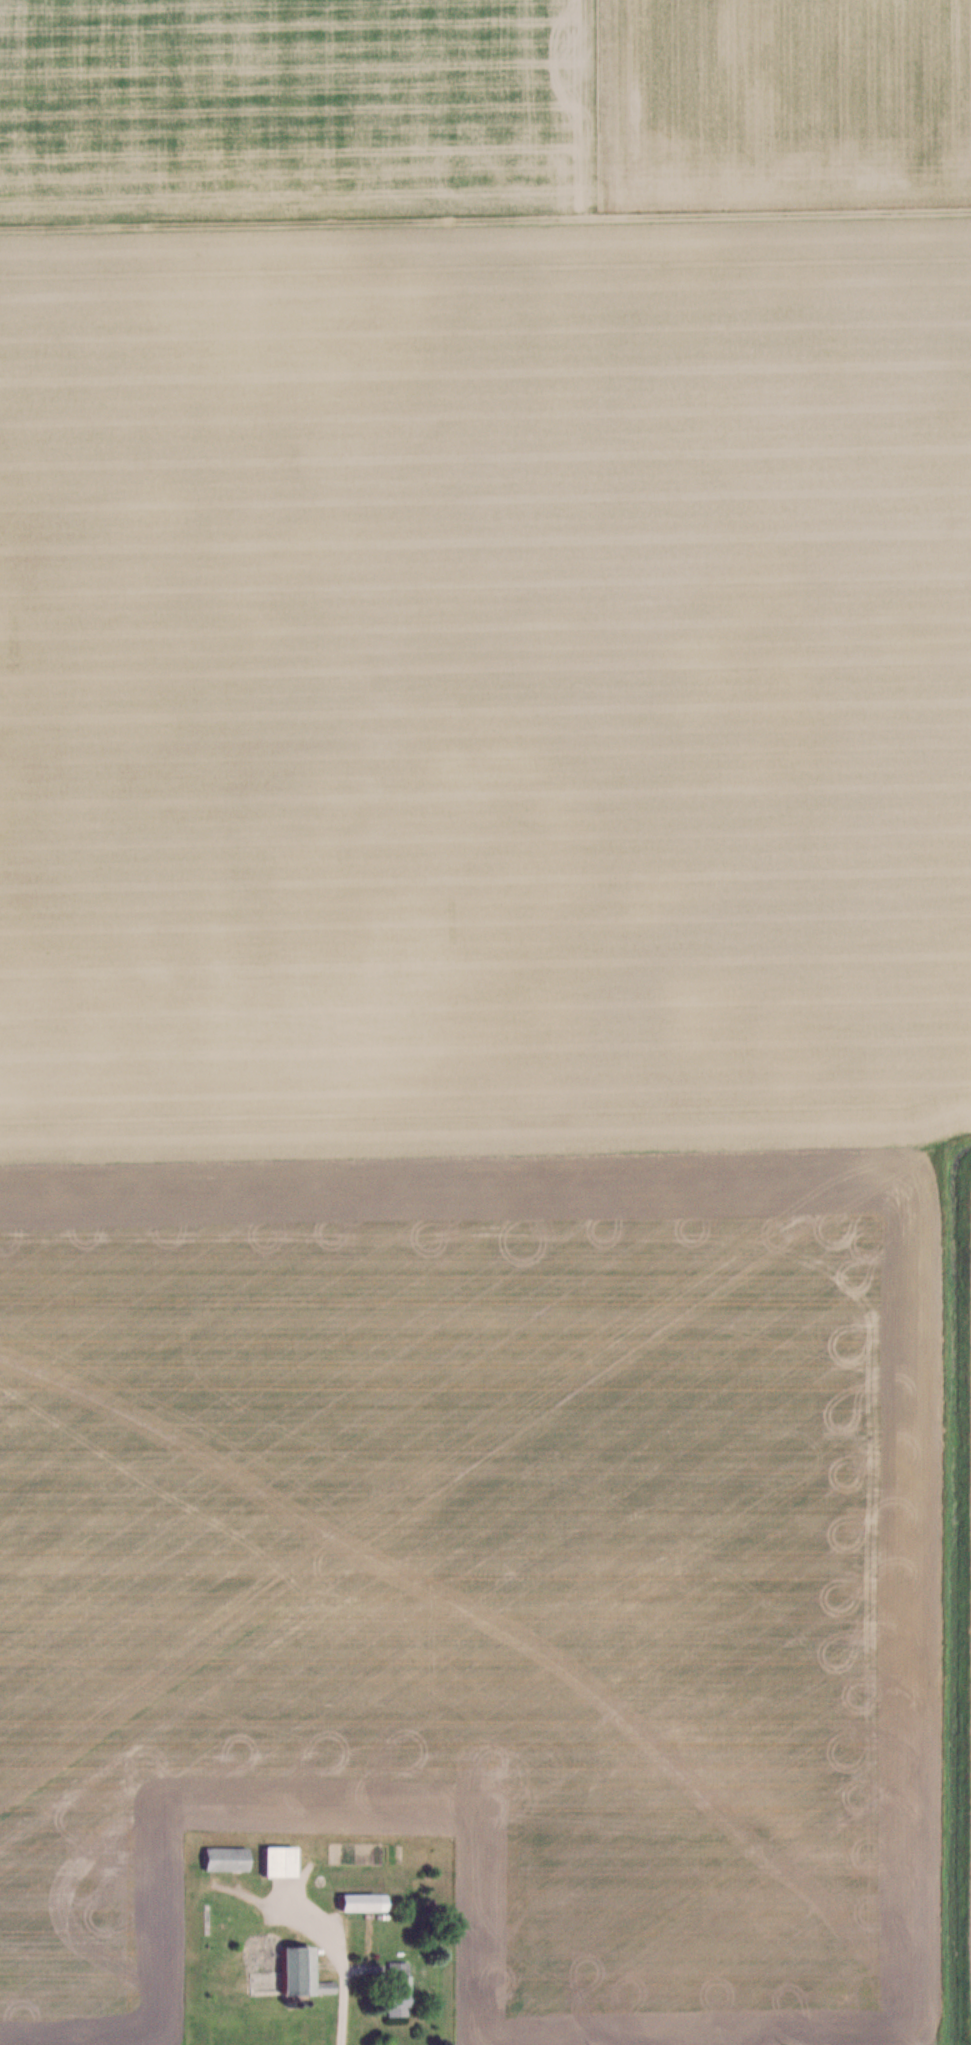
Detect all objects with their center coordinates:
building: (229, 1857)
building: (283, 1859)
building: (363, 1900)
road: (336, 1961)
building: (304, 1970)
building: (399, 1987)

